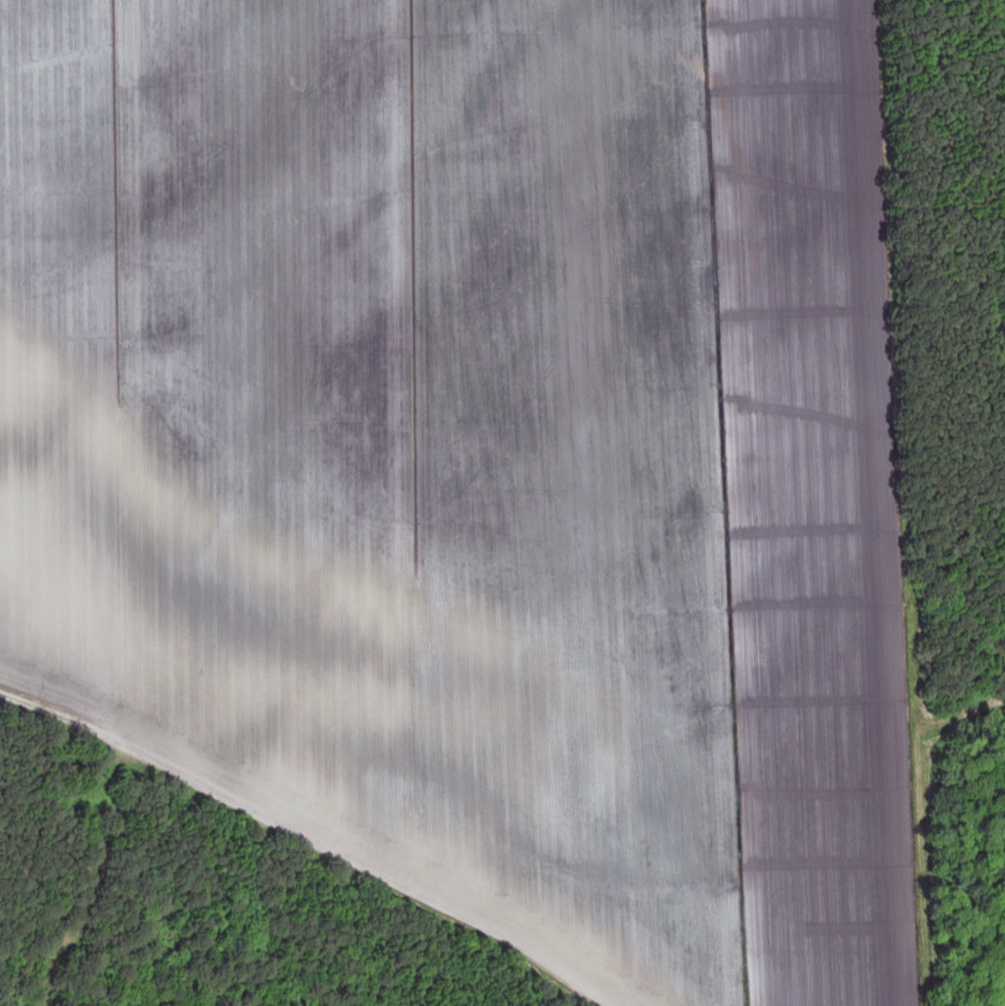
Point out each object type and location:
road: (330, 844)

